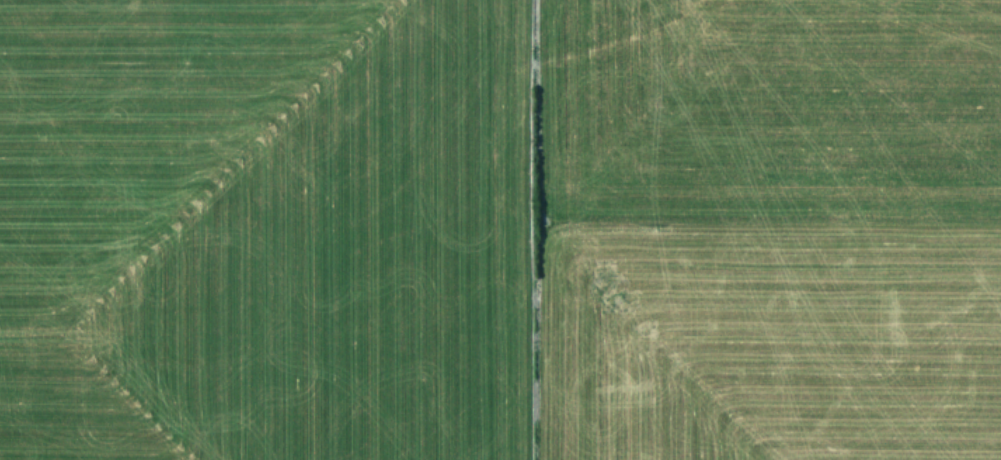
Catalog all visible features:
crop: (500, 230)

